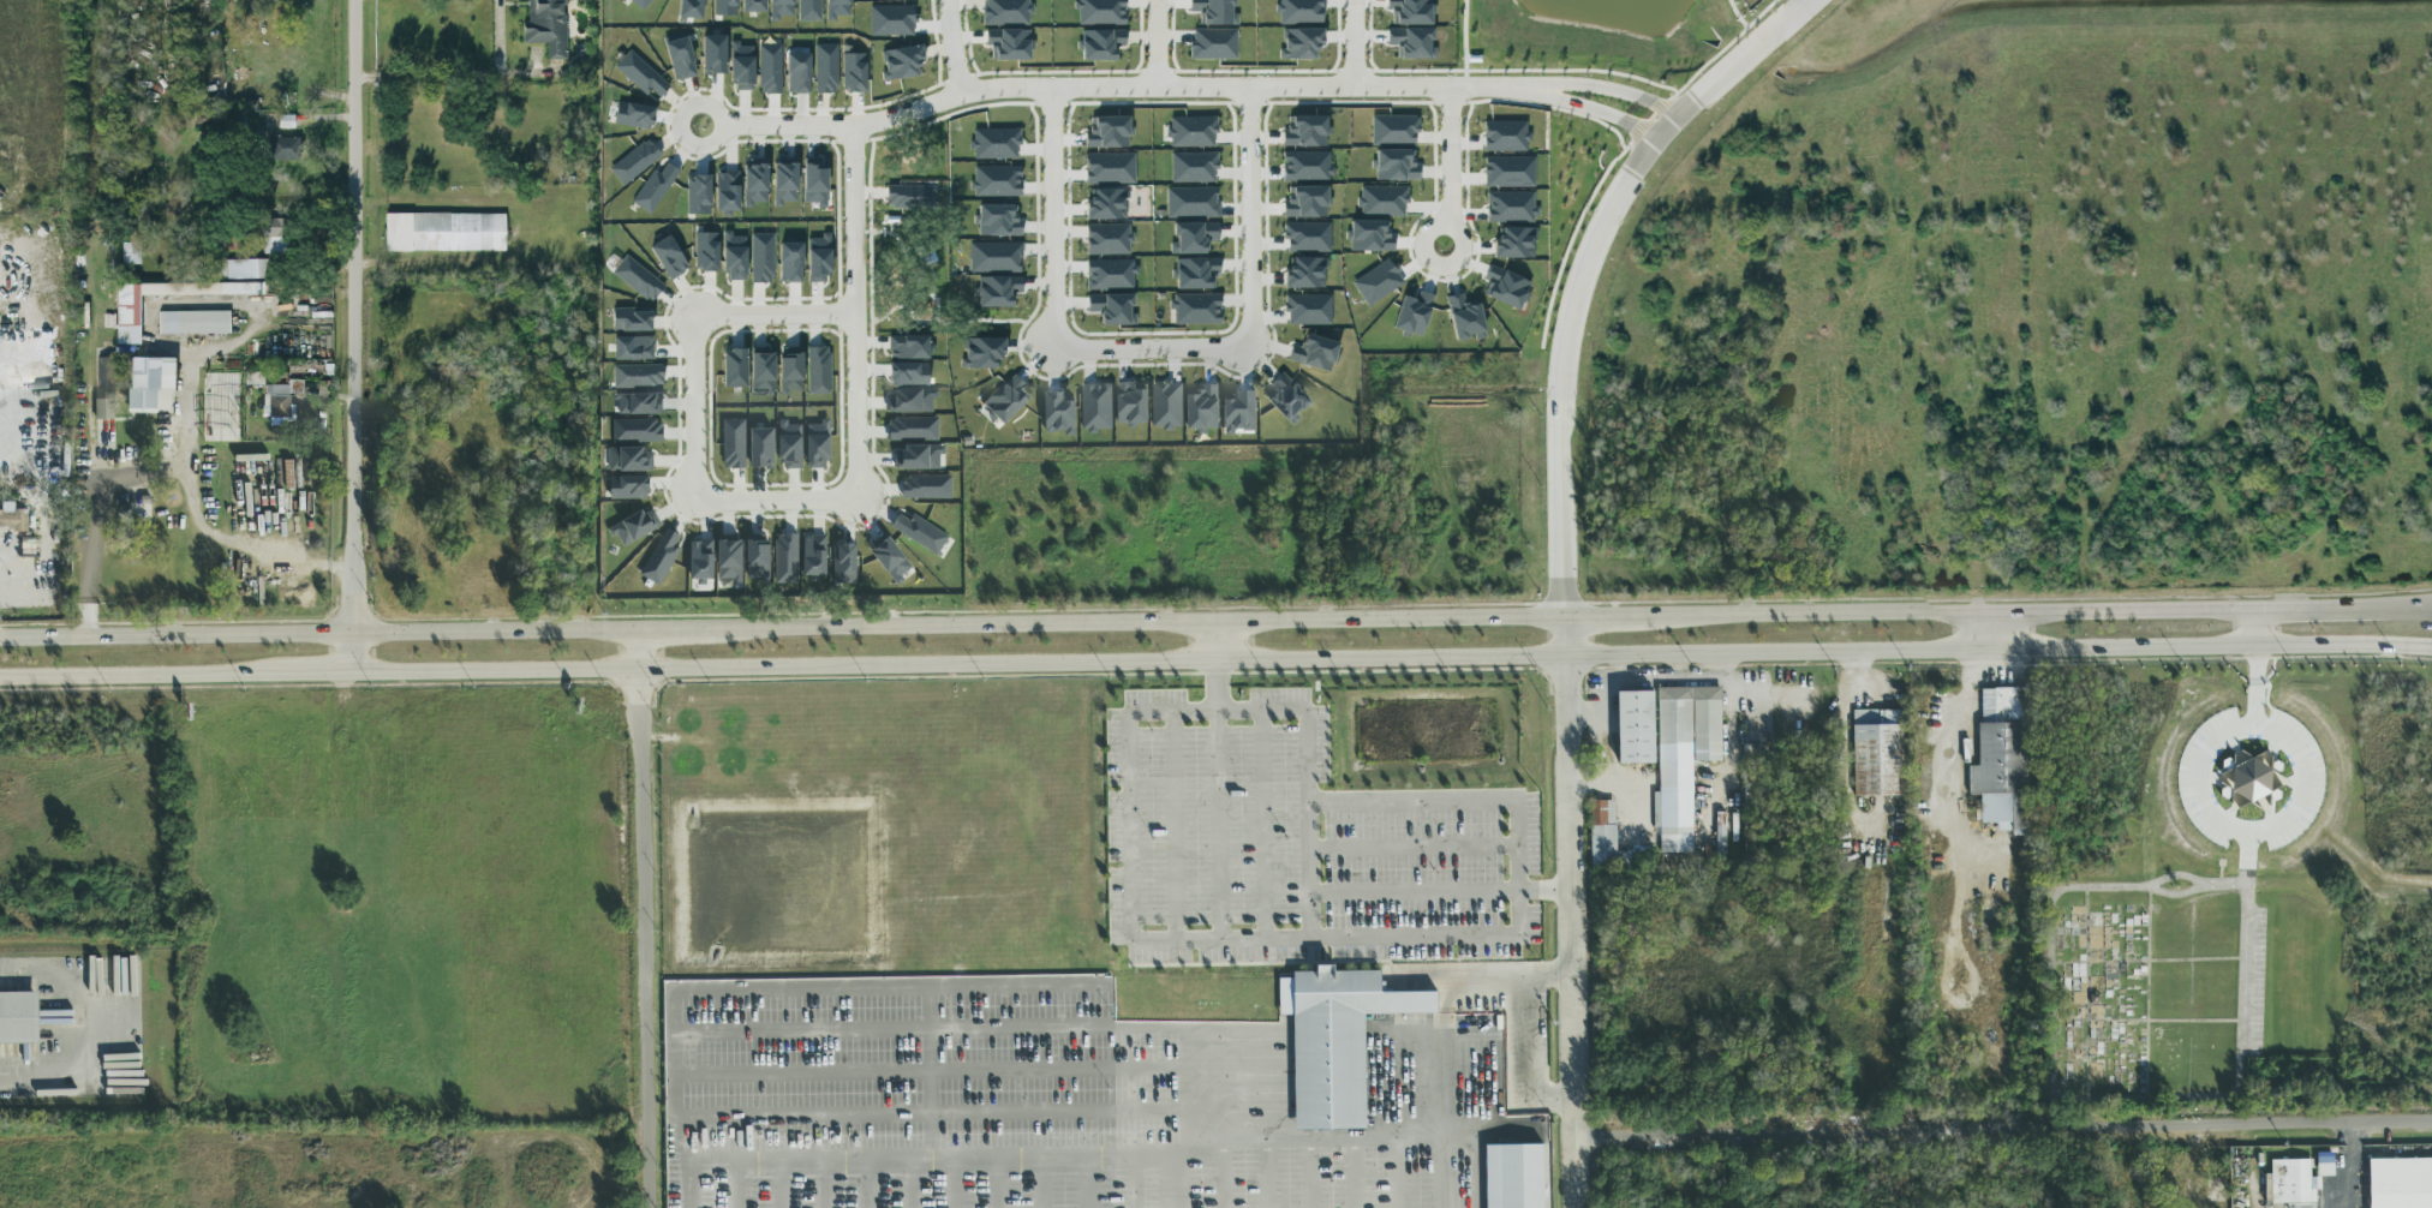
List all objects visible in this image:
building: (275, 1)
building: (640, 2)
building: (752, 5)
building: (724, 7)
building: (689, 8)
building: (779, 8)
building: (837, 8)
building: (808, 10)
building: (1100, 11)
building: (1213, 11)
building: (1298, 11)
building: (1005, 12)
building: (1409, 12)
road: (1737, 13)
building: (890, 19)
building: (545, 26)
building: (1299, 42)
building: (1411, 42)
building: (1008, 43)
building: (1099, 43)
road: (1155, 43)
building: (1212, 43)
road: (1354, 43)
road: (1464, 43)
road: (952, 47)
road: (1716, 53)
building: (712, 54)
building: (679, 58)
building: (901, 62)
building: (741, 66)
building: (825, 67)
building: (769, 68)
road: (1572, 70)
road: (524, 71)
building: (796, 72)
building: (853, 72)
road: (462, 73)
building: (640, 76)
road: (1530, 86)
road: (1118, 88)
building: (633, 114)
building: (1392, 128)
building: (1304, 130)
building: (1190, 131)
building: (1107, 132)
road: (718, 136)
building: (1505, 136)
building: (993, 143)
building: (283, 148)
building: (633, 161)
building: (1305, 165)
building: (1394, 165)
building: (1109, 167)
building: (1191, 167)
building: (1508, 171)
road: (1450, 174)
building: (754, 180)
building: (813, 180)
building: (996, 180)
building: (783, 181)
building: (653, 189)
building: (725, 191)
building: (697, 195)
building: (910, 196)
building: (1381, 199)
building: (1304, 201)
building: (1190, 202)
building: (1106, 204)
building: (1510, 207)
building: (997, 220)
building: (273, 227)
building: (443, 232)
building: (1307, 235)
building: (1369, 235)
building: (1193, 237)
building: (1106, 238)
building: (1513, 243)
building: (705, 251)
building: (130, 252)
building: (734, 256)
building: (993, 256)
building: (668, 257)
building: (760, 257)
building: (818, 258)
building: (789, 262)
building: (191, 267)
building: (237, 268)
road: (1588, 268)
building: (1303, 271)
building: (1195, 273)
building: (1109, 274)
building: (637, 277)
building: (1376, 282)
building: (1504, 287)
building: (997, 291)
building: (1111, 309)
building: (1195, 309)
building: (1307, 309)
building: (1411, 313)
building: (1464, 317)
building: (126, 318)
building: (631, 319)
building: (192, 322)
road: (354, 336)
building: (907, 346)
building: (632, 347)
building: (980, 352)
building: (1313, 352)
road: (1153, 360)
building: (733, 367)
building: (761, 370)
building: (789, 370)
building: (817, 371)
building: (907, 373)
building: (637, 375)
building: (150, 384)
building: (294, 387)
building: (104, 388)
road: (26, 390)
building: (1287, 399)
building: (1006, 401)
building: (912, 402)
building: (277, 403)
building: (639, 403)
building: (1131, 405)
building: (1166, 406)
road: (90, 407)
building: (221, 407)
building: (1095, 408)
building: (1202, 411)
building: (1239, 414)
building: (1058, 415)
building: (913, 430)
building: (638, 432)
building: (734, 444)
building: (790, 447)
building: (818, 447)
building: (761, 449)
building: (919, 459)
building: (631, 461)
road: (173, 472)
building: (629, 489)
building: (927, 489)
road: (801, 516)
building: (13, 519)
road: (44, 530)
building: (632, 530)
building: (920, 534)
road: (247, 546)
building: (814, 557)
building: (661, 560)
building: (758, 560)
building: (787, 560)
building: (701, 561)
building: (892, 561)
building: (730, 562)
road: (22, 563)
building: (844, 566)
road: (2397, 605)
road: (2312, 606)
road: (1953, 612)
road: (1606, 617)
road: (1141, 624)
road: (2259, 627)
road: (677, 630)
road: (319, 634)
road: (1214, 642)
road: (1393, 658)
road: (317, 674)
road: (139, 676)
road: (1214, 687)
road: (1217, 712)
building: (1636, 729)
building: (1877, 754)
building: (1684, 759)
building: (2002, 760)
building: (1752, 769)
road: (1954, 784)
building: (2248, 787)
road: (1412, 802)
road: (1309, 825)
road: (1263, 826)
road: (1176, 827)
road: (1218, 827)
road: (1127, 829)
building: (1720, 836)
building: (1605, 838)
road: (1414, 850)
road: (1518, 868)
road: (2249, 871)
park: (2236, 881)
road: (1546, 891)
road: (1414, 893)
road: (1572, 913)
road: (644, 920)
road: (1323, 939)
road: (1484, 976)
road: (2054, 989)
road: (694, 991)
building: (19, 1019)
road: (86, 1027)
building: (1337, 1041)
road: (1434, 1058)
road: (1523, 1060)
road: (1070, 1110)
road: (2003, 1130)
road: (1266, 1142)
road: (901, 1158)
road: (1448, 1168)
building: (1514, 1177)
building: (2293, 1183)
building: (2400, 1184)

